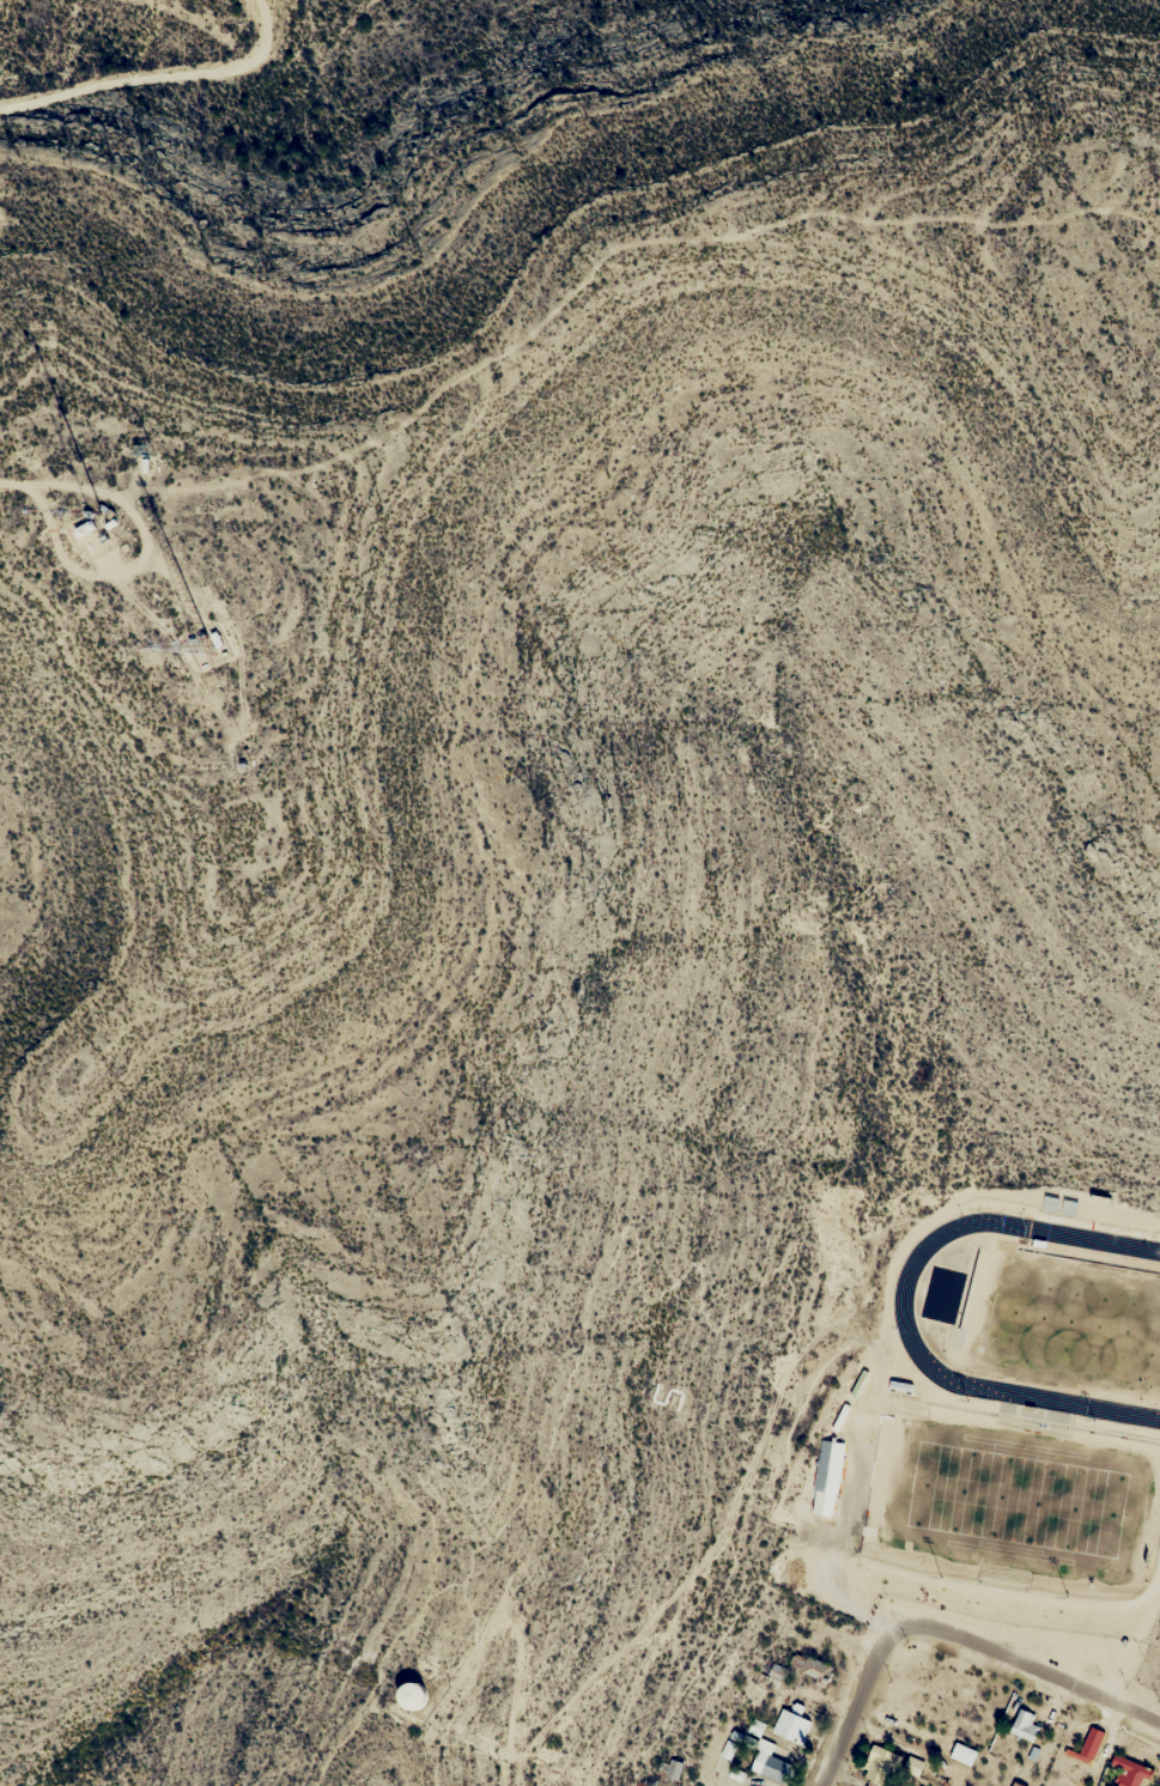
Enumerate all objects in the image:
road: (156, 74)
road: (4, 480)
road: (139, 558)
track: (1036, 1312)
road: (729, 1313)
building: (827, 1478)
park: (1016, 1496)
road: (1032, 1666)
road: (378, 1669)
road: (457, 1678)
building: (412, 1694)
storage tank: (412, 1694)
road: (858, 1702)
building: (792, 1724)
building: (1025, 1726)
building: (755, 1729)
building: (1093, 1742)
building: (771, 1767)
building: (879, 1767)
building: (674, 1769)
building: (1130, 1772)

